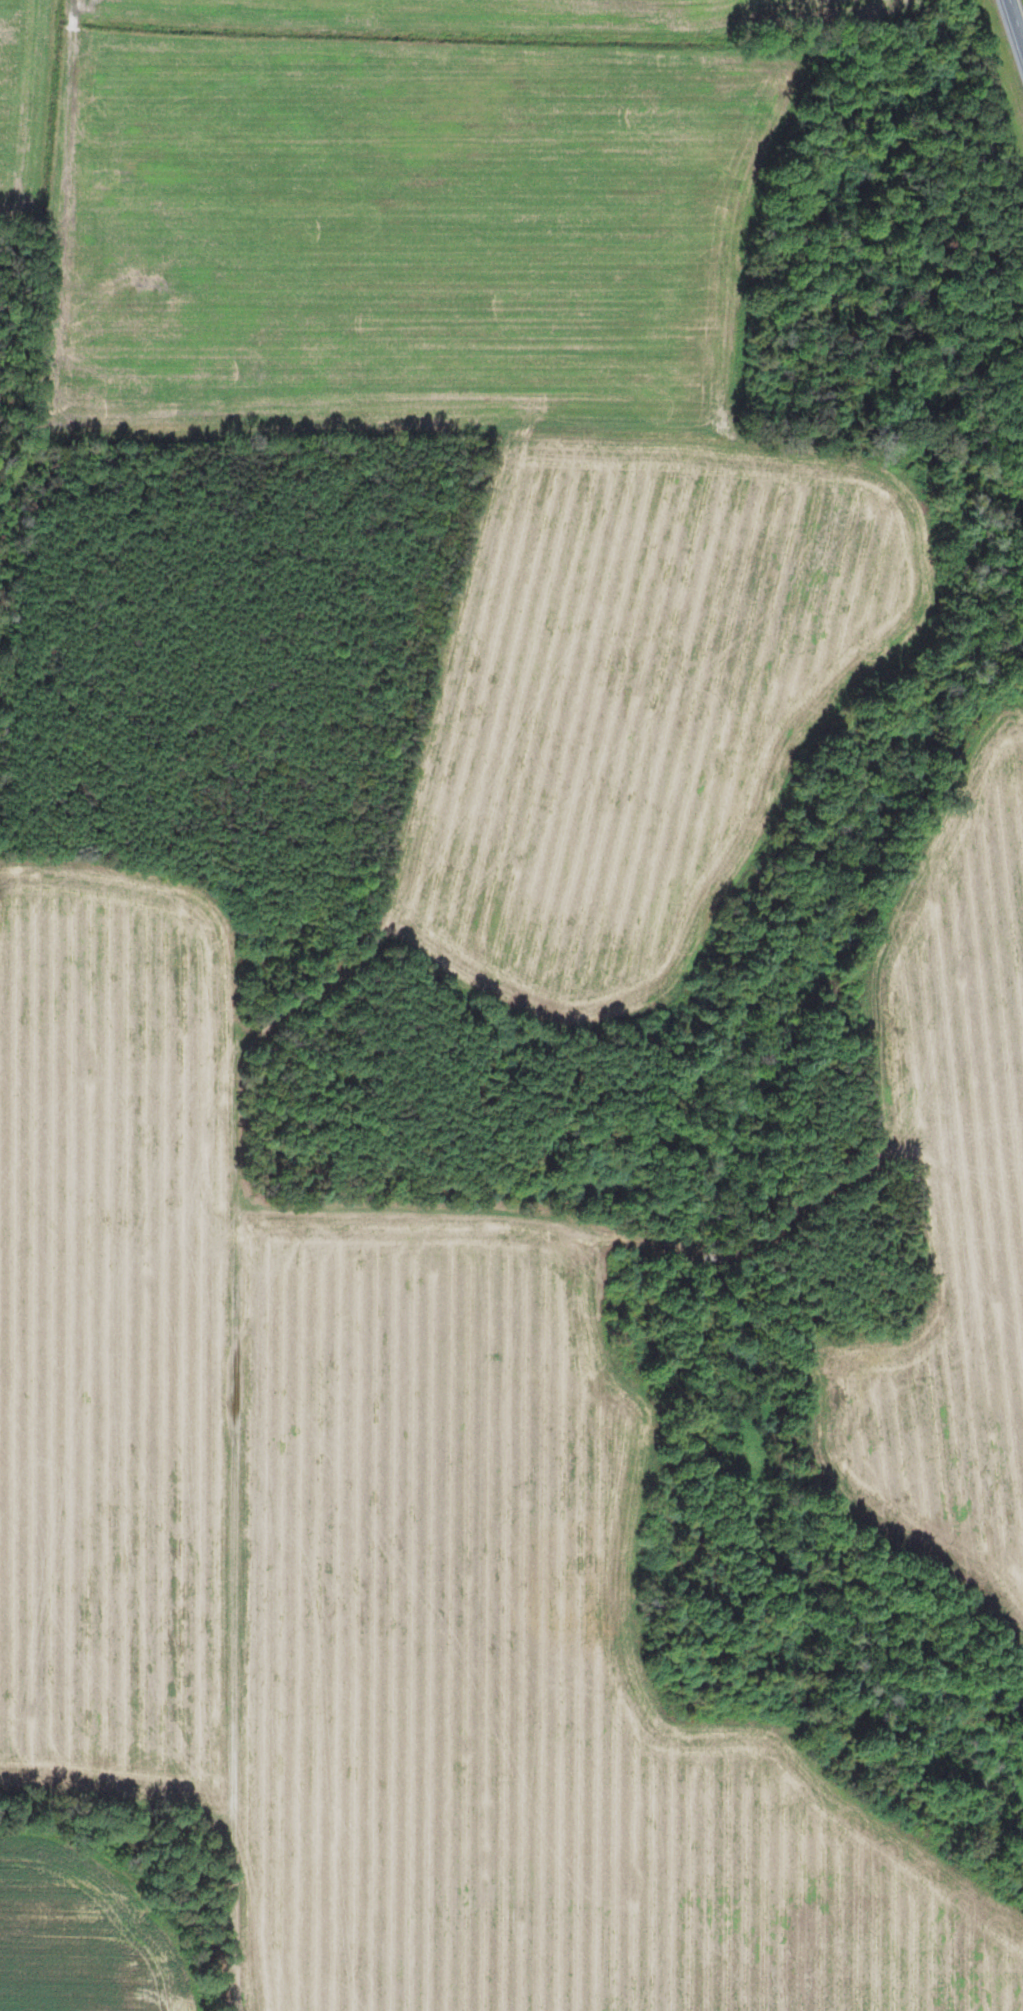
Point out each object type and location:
road: (1016, 18)
crop: (944, 1190)

